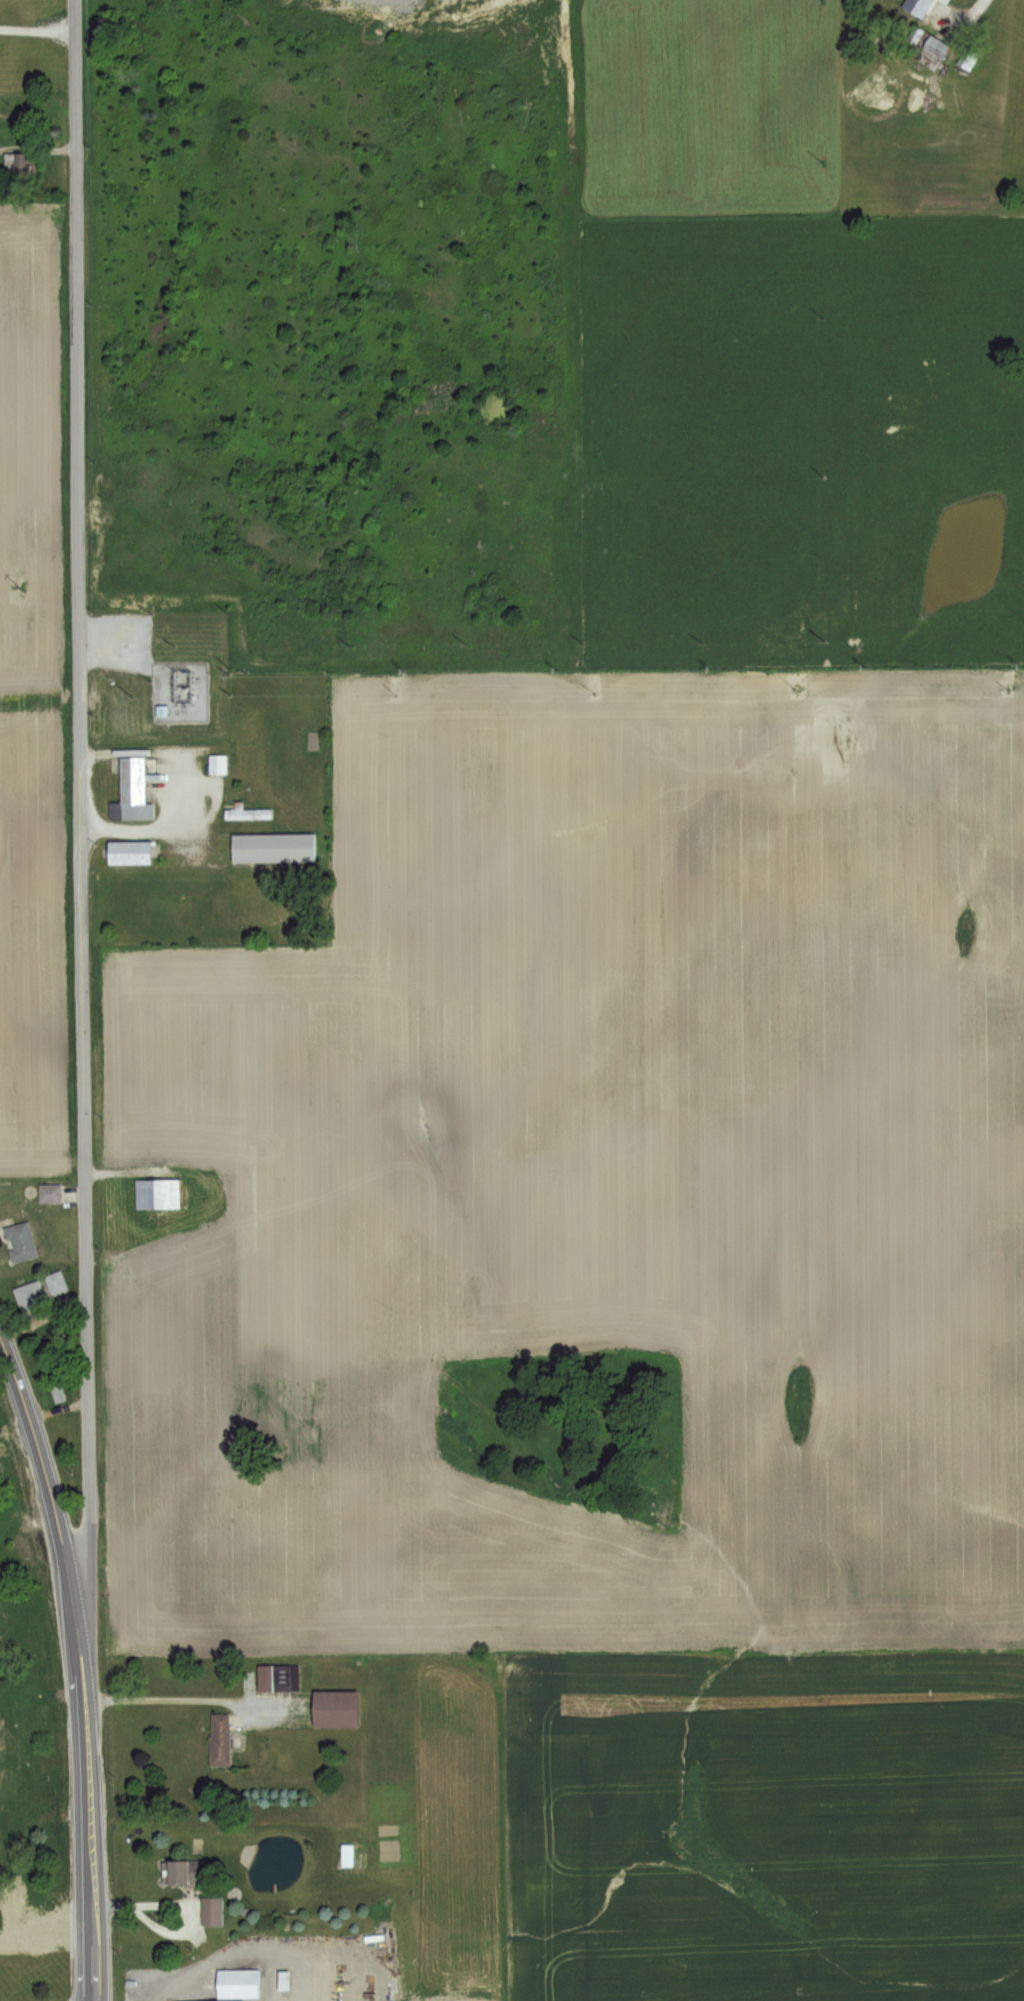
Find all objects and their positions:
road: (36, 29)
building: (928, 46)
building: (17, 166)
crop: (44, 644)
building: (215, 763)
building: (133, 785)
building: (245, 813)
road: (159, 823)
road: (79, 836)
building: (273, 841)
building: (130, 844)
crop: (640, 977)
building: (48, 1193)
building: (157, 1195)
building: (19, 1243)
building: (54, 1283)
building: (30, 1298)
building: (56, 1393)
road: (51, 1508)
building: (0, 1633)
building: (276, 1676)
road: (171, 1697)
building: (335, 1707)
building: (2, 1724)
building: (219, 1741)
crop: (703, 1823)
building: (8, 1826)
road: (89, 1836)
building: (343, 1855)
building: (181, 1872)
building: (10, 1908)
building: (208, 1911)
building: (236, 1983)

